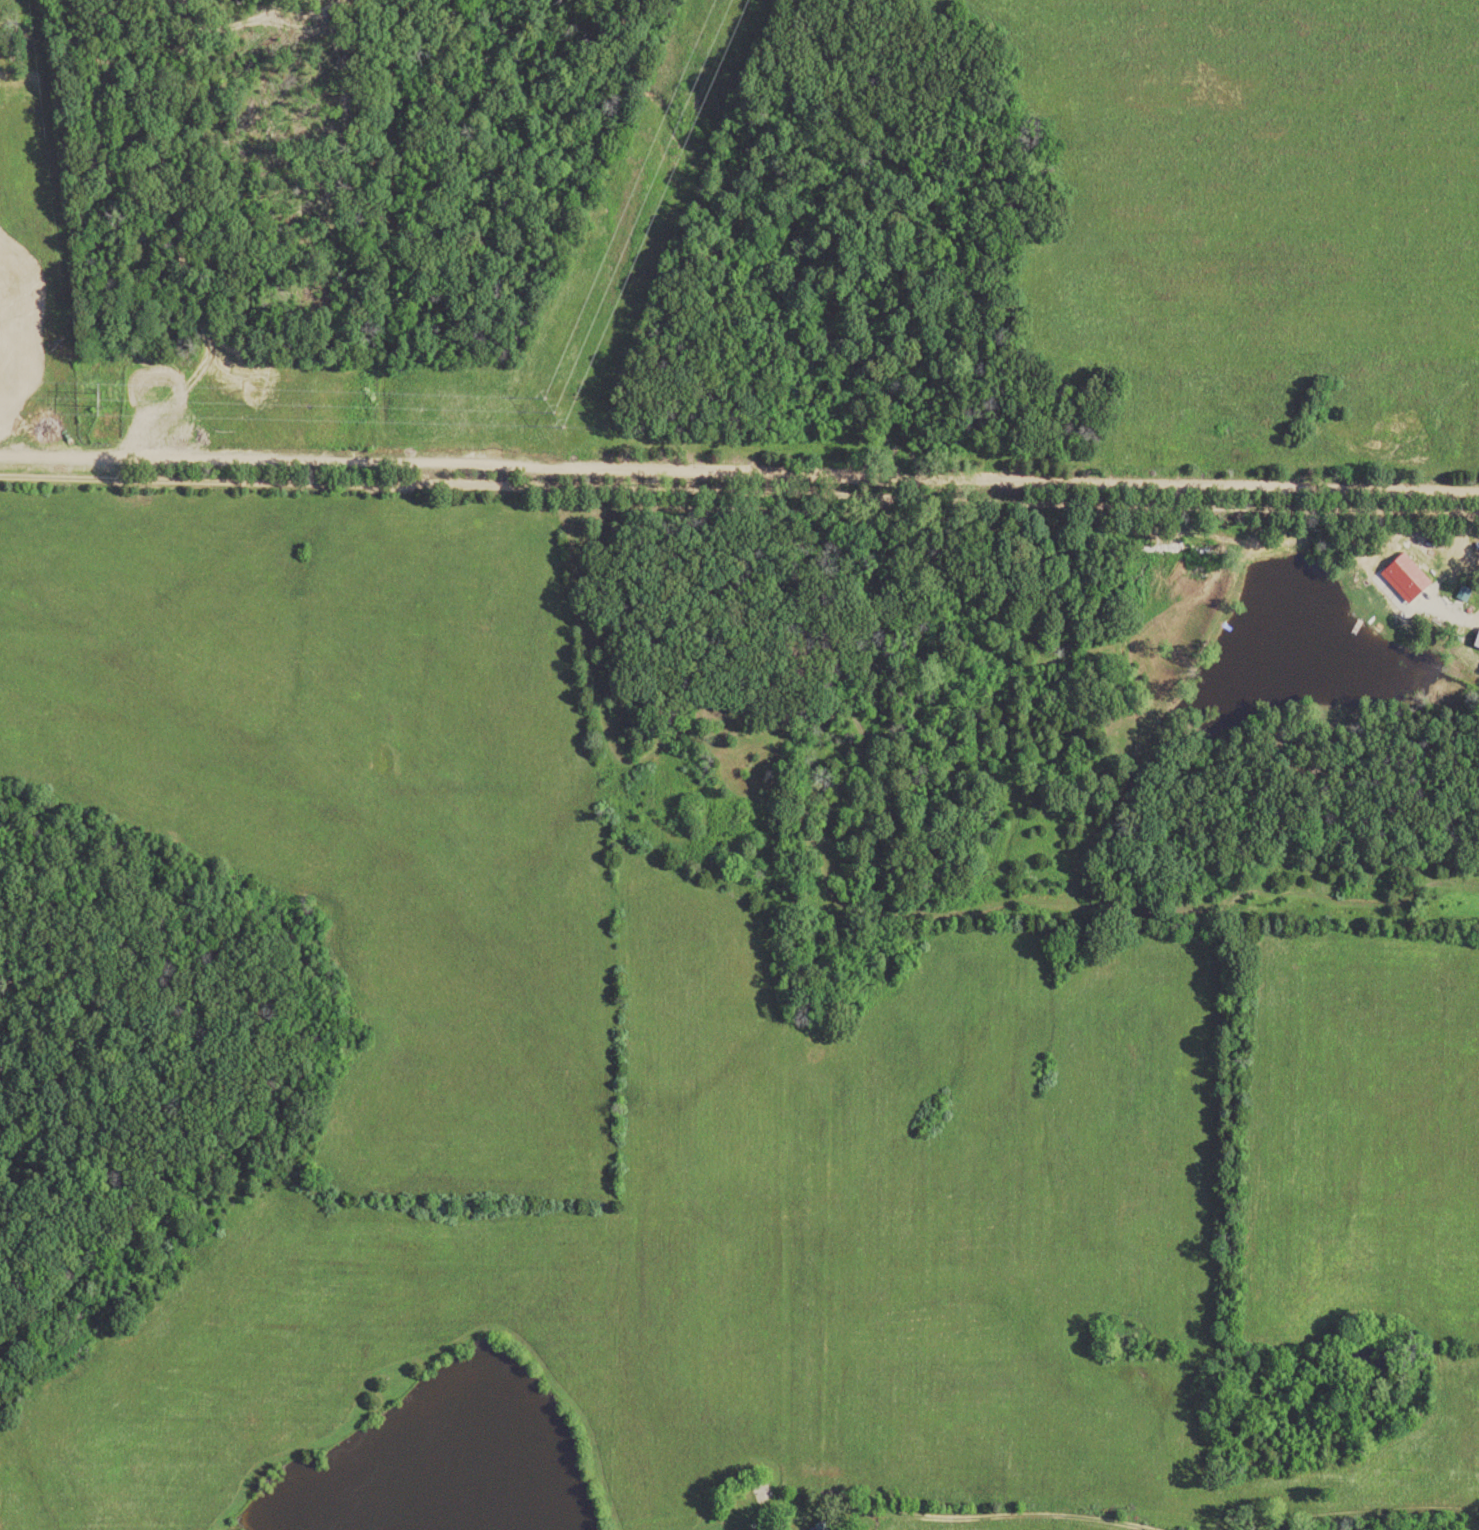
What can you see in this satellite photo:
power tower: (104, 404)
power tower: (554, 414)
road: (739, 466)
road: (739, 491)
road: (1212, 542)
road: (1375, 1509)
road: (974, 1516)

